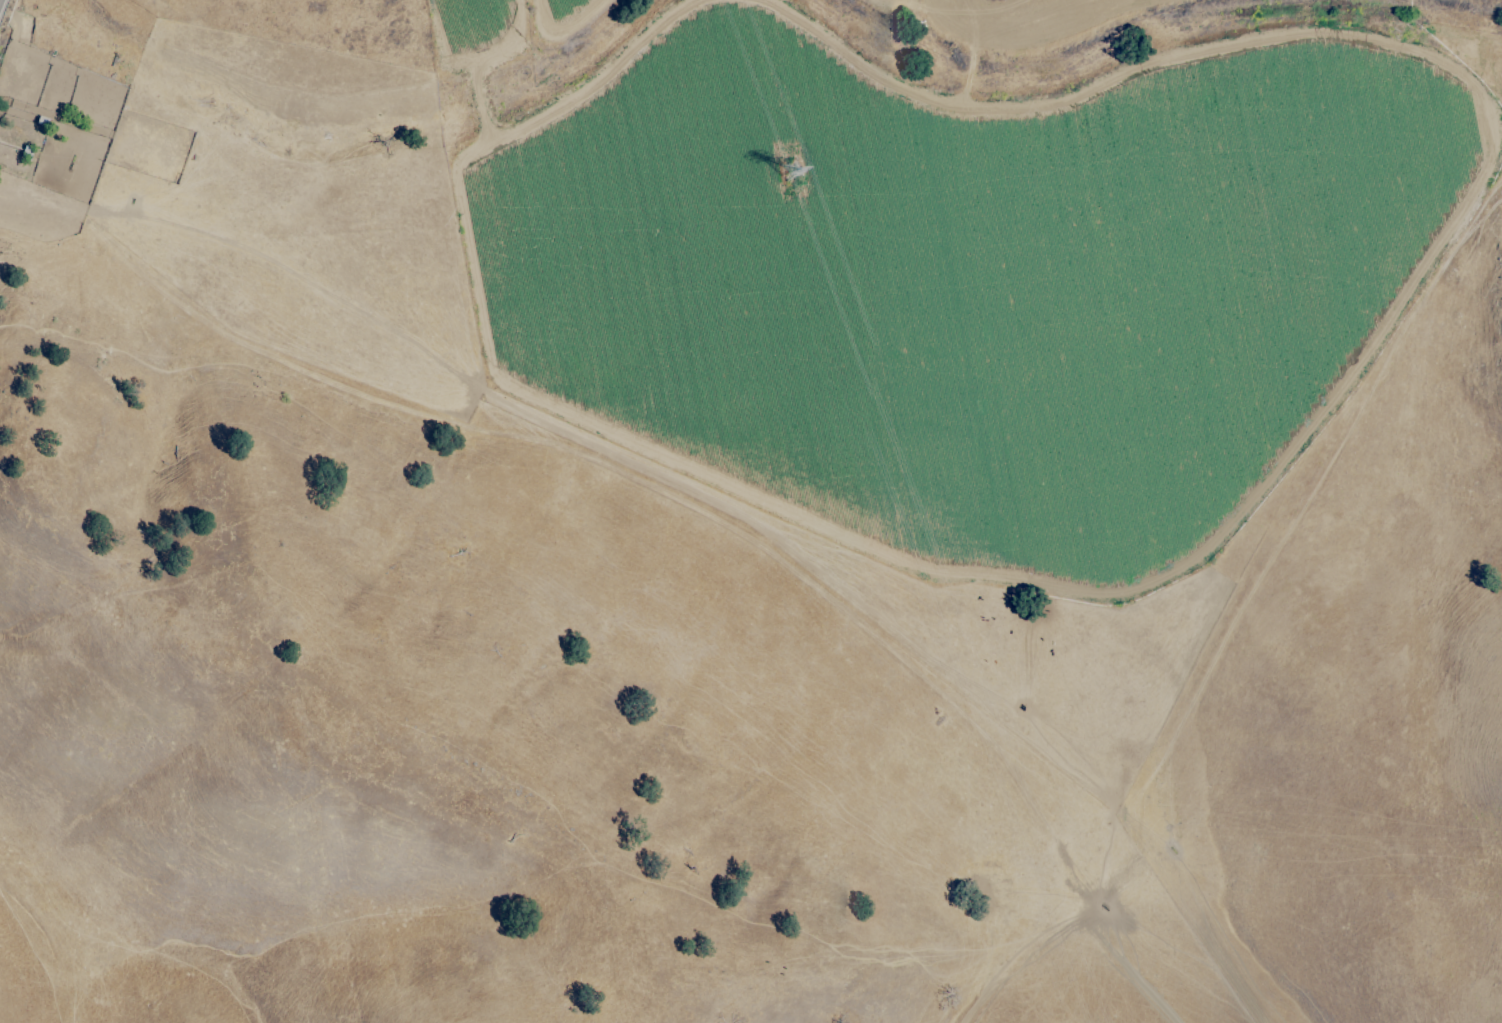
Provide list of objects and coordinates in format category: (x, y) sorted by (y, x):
park: (1464, 33)
power tower: (777, 171)
park: (639, 645)
power tower: (1103, 899)
road: (1119, 967)

